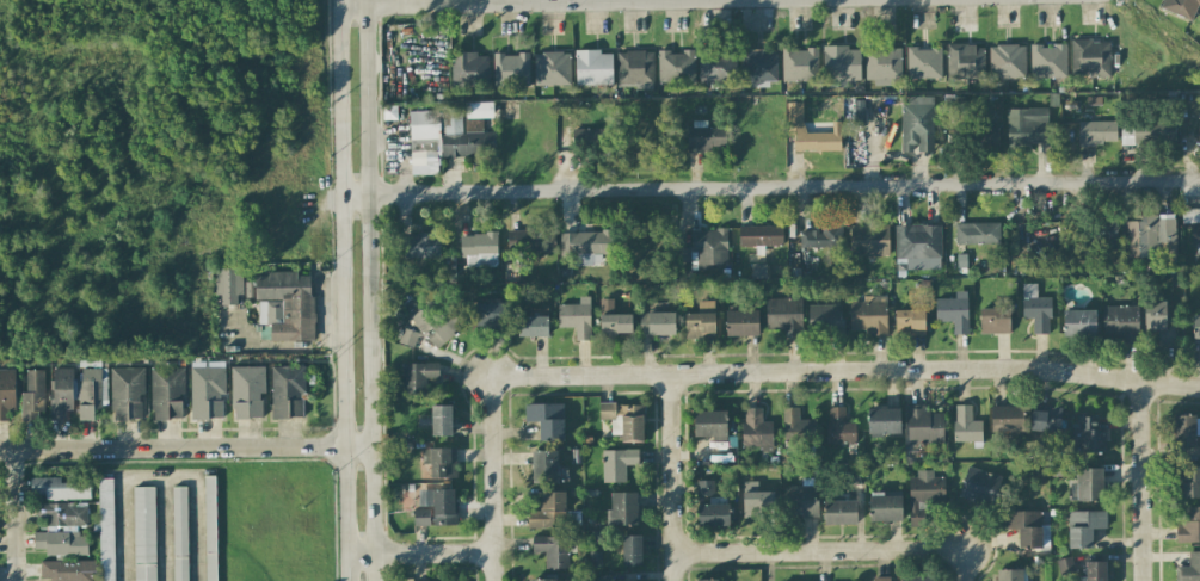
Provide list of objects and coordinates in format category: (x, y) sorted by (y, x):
road: (555, 2)
building: (1181, 7)
building: (1089, 57)
building: (1007, 61)
building: (1047, 61)
building: (923, 62)
building: (965, 62)
building: (841, 63)
building: (882, 63)
building: (799, 64)
building: (718, 66)
building: (758, 66)
building: (592, 67)
building: (675, 67)
building: (552, 68)
building: (469, 69)
building: (510, 69)
building: (634, 69)
building: (917, 124)
building: (1026, 125)
building: (794, 126)
building: (1199, 129)
building: (466, 131)
building: (1096, 132)
building: (1147, 134)
building: (703, 136)
building: (592, 138)
building: (424, 142)
road: (770, 191)
building: (1192, 223)
building: (977, 233)
building: (1096, 234)
building: (761, 235)
building: (821, 237)
building: (1150, 237)
building: (531, 240)
building: (868, 240)
building: (419, 246)
building: (586, 246)
building: (917, 247)
building: (479, 248)
building: (709, 248)
building: (682, 255)
building: (758, 271)
building: (228, 284)
road: (341, 290)
road: (369, 290)
building: (285, 305)
building: (1035, 309)
building: (953, 311)
building: (492, 315)
building: (784, 315)
building: (869, 315)
building: (576, 317)
building: (825, 319)
building: (613, 320)
building: (995, 320)
building: (701, 321)
building: (741, 322)
building: (910, 322)
building: (1078, 322)
building: (1121, 322)
building: (657, 323)
building: (1158, 323)
building: (436, 325)
building: (533, 326)
building: (1195, 326)
building: (408, 336)
road: (788, 370)
building: (418, 377)
road: (1171, 387)
building: (207, 389)
building: (287, 390)
building: (61, 391)
building: (246, 391)
building: (6, 393)
building: (88, 393)
building: (125, 393)
building: (166, 393)
building: (32, 395)
building: (1007, 418)
building: (441, 420)
building: (546, 420)
building: (624, 420)
building: (1045, 420)
building: (884, 421)
building: (710, 425)
building: (924, 425)
building: (966, 425)
building: (838, 426)
building: (796, 427)
building: (756, 429)
building: (1183, 431)
building: (1088, 433)
road: (184, 447)
building: (441, 462)
building: (617, 464)
road: (671, 476)
road: (156, 477)
building: (1188, 481)
road: (1145, 482)
building: (1087, 486)
building: (979, 487)
building: (59, 488)
building: (923, 495)
building: (800, 500)
building: (756, 501)
building: (436, 507)
building: (710, 507)
building: (885, 507)
building: (622, 508)
building: (548, 511)
building: (839, 512)
road: (494, 513)
road: (17, 514)
building: (1188, 525)
building: (1083, 527)
building: (210, 529)
building: (62, 530)
building: (106, 530)
building: (143, 533)
building: (179, 533)
road: (931, 548)
building: (554, 550)
building: (632, 550)
road: (774, 552)
road: (419, 555)
building: (1065, 564)
building: (1189, 568)
building: (67, 569)
building: (1095, 570)
building: (1010, 575)
building: (917, 577)
building: (880, 579)
building: (543, 580)
building: (571, 580)
building: (707, 580)

